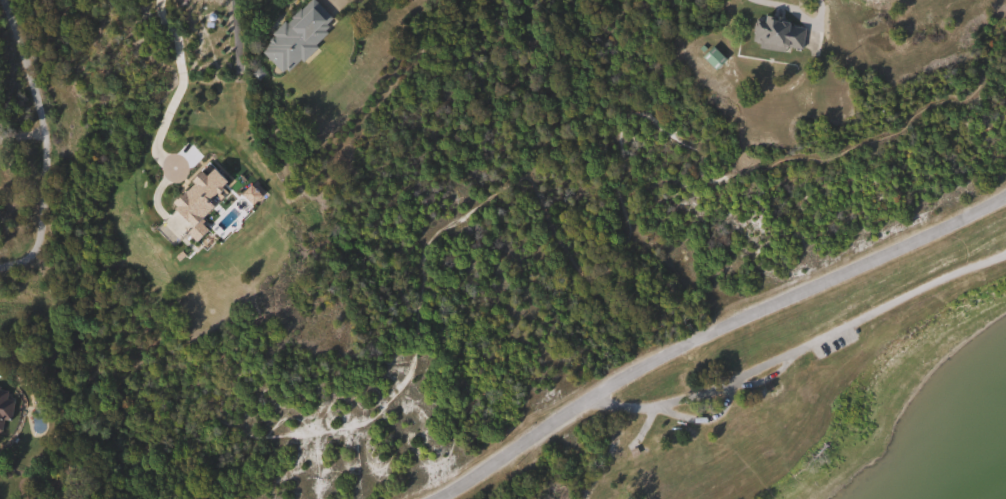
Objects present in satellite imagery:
building: (872, 4)
road: (798, 13)
building: (779, 33)
building: (297, 34)
building: (714, 58)
road: (179, 82)
road: (43, 140)
building: (149, 141)
road: (500, 191)
road: (265, 204)
building: (199, 205)
road: (1005, 254)
road: (711, 327)
parking lot: (832, 342)
road: (801, 347)
road: (766, 376)
building: (4, 407)
road: (703, 418)

